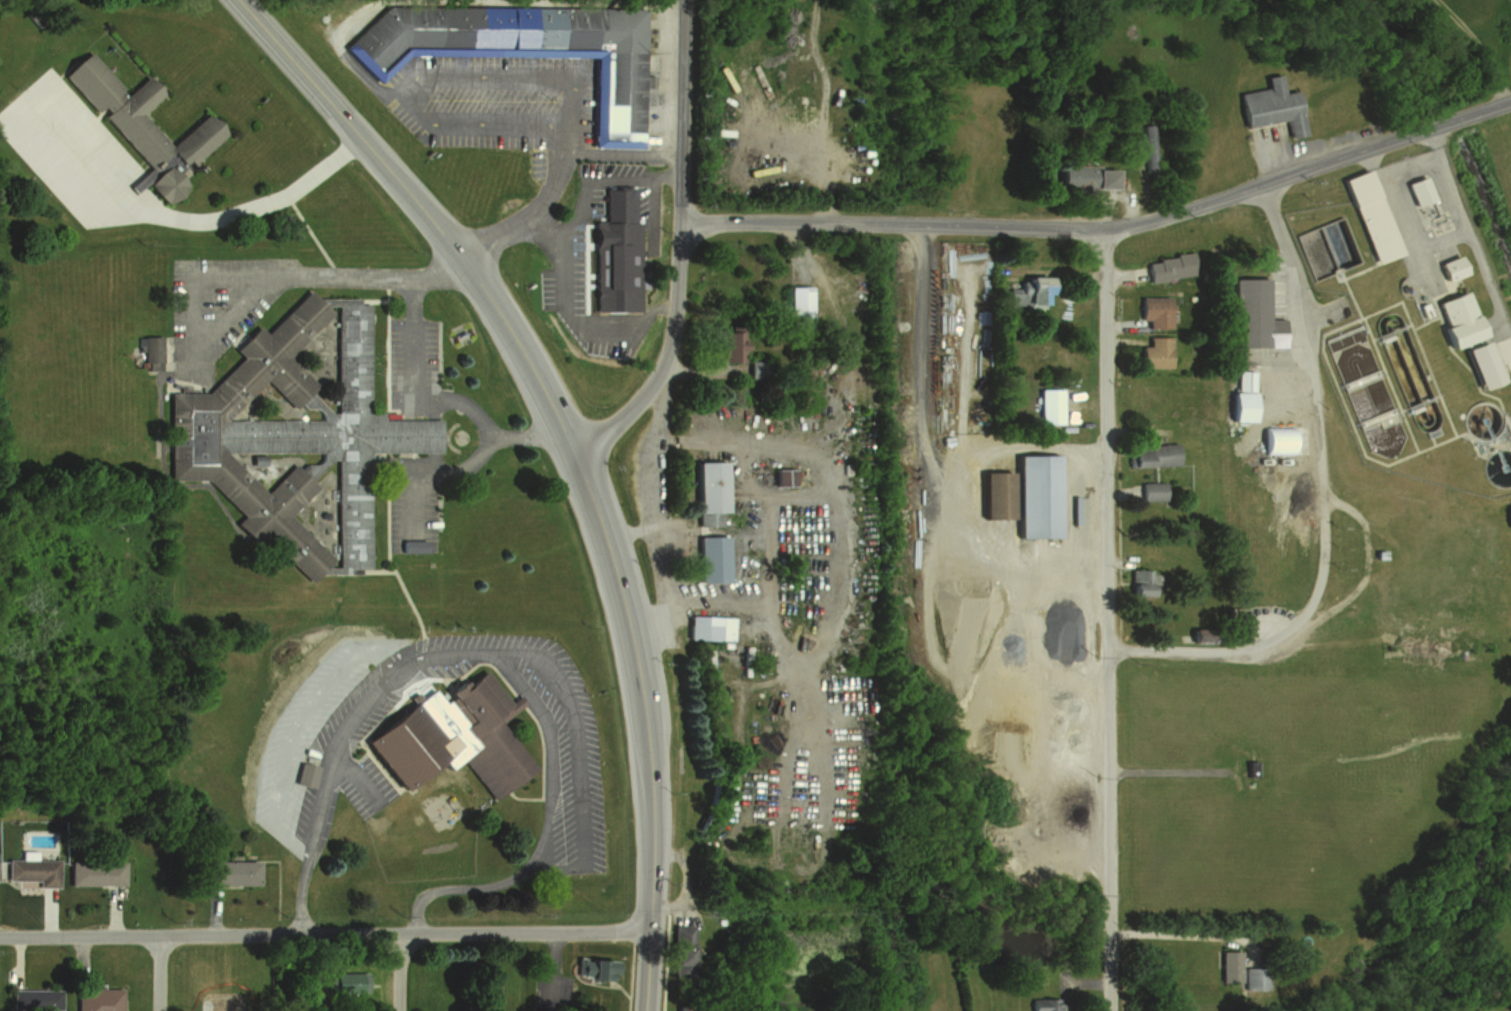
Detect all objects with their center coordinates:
building: (525, 50)
road: (425, 76)
building: (1271, 106)
building: (139, 124)
road: (361, 139)
building: (1149, 148)
road: (624, 154)
building: (1086, 177)
road: (591, 189)
building: (1417, 190)
road: (253, 196)
road: (532, 211)
building: (612, 215)
building: (1371, 216)
road: (1106, 229)
road: (678, 247)
building: (1166, 267)
building: (1450, 267)
building: (604, 276)
road: (281, 277)
building: (1025, 294)
building: (798, 303)
building: (1154, 312)
building: (1252, 315)
building: (633, 318)
building: (1458, 318)
wastewater plant: (1367, 320)
road: (581, 327)
building: (733, 344)
building: (148, 352)
building: (1154, 353)
building: (1482, 364)
road: (530, 367)
road: (433, 398)
building: (1240, 398)
road: (848, 419)
building: (294, 436)
building: (1152, 455)
road: (425, 475)
building: (782, 477)
building: (1151, 491)
building: (708, 494)
building: (996, 496)
building: (1038, 497)
road: (1324, 502)
road: (652, 518)
road: (629, 532)
building: (709, 559)
road: (612, 562)
road: (392, 567)
building: (1140, 582)
road: (1107, 620)
building: (706, 628)
building: (1196, 634)
road: (530, 655)
building: (449, 738)
road: (357, 776)
road: (651, 842)
building: (30, 870)
building: (92, 871)
building: (227, 872)
road: (1182, 934)
road: (324, 935)
building: (677, 949)
building: (1228, 966)
building: (592, 968)
road: (398, 973)
road: (162, 974)
building: (1254, 977)
building: (347, 983)
building: (96, 999)
building: (31, 1000)
building: (1045, 1004)

